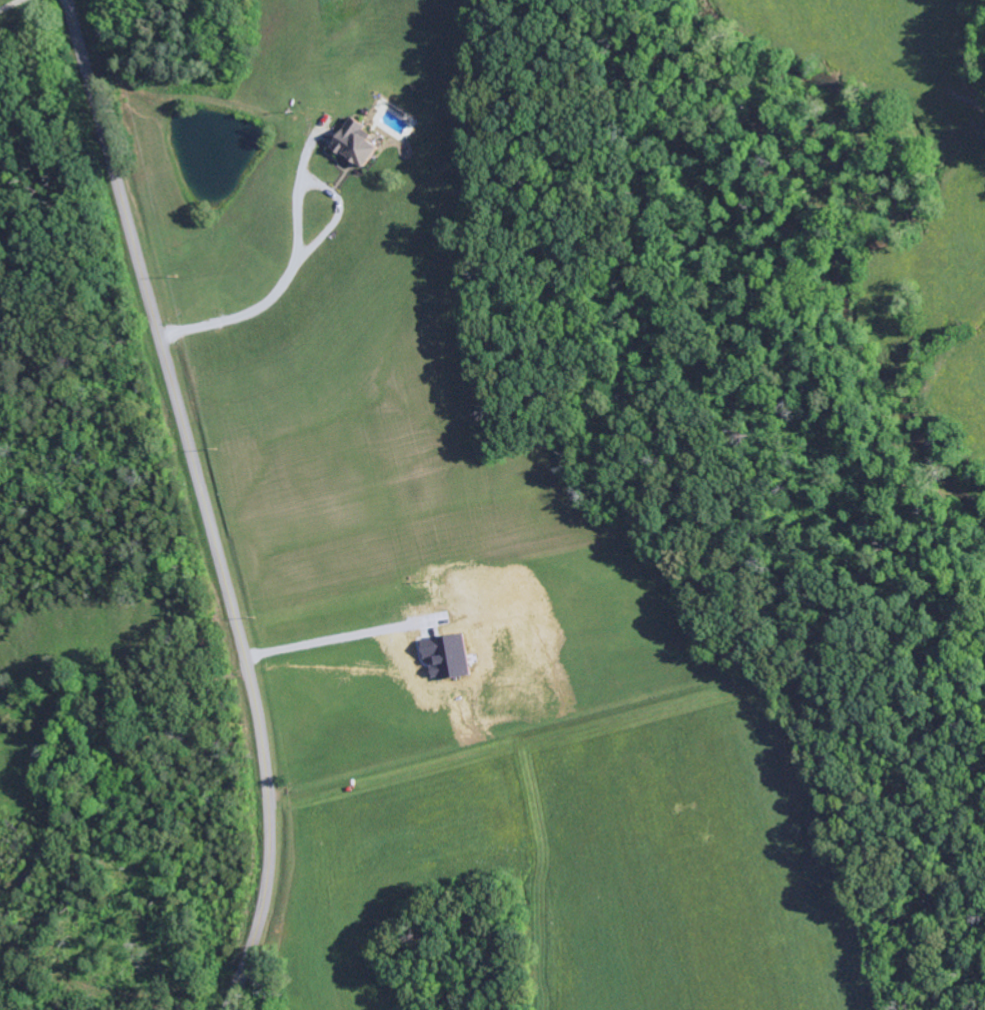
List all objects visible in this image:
building: (358, 144)
road: (204, 502)
building: (450, 656)

